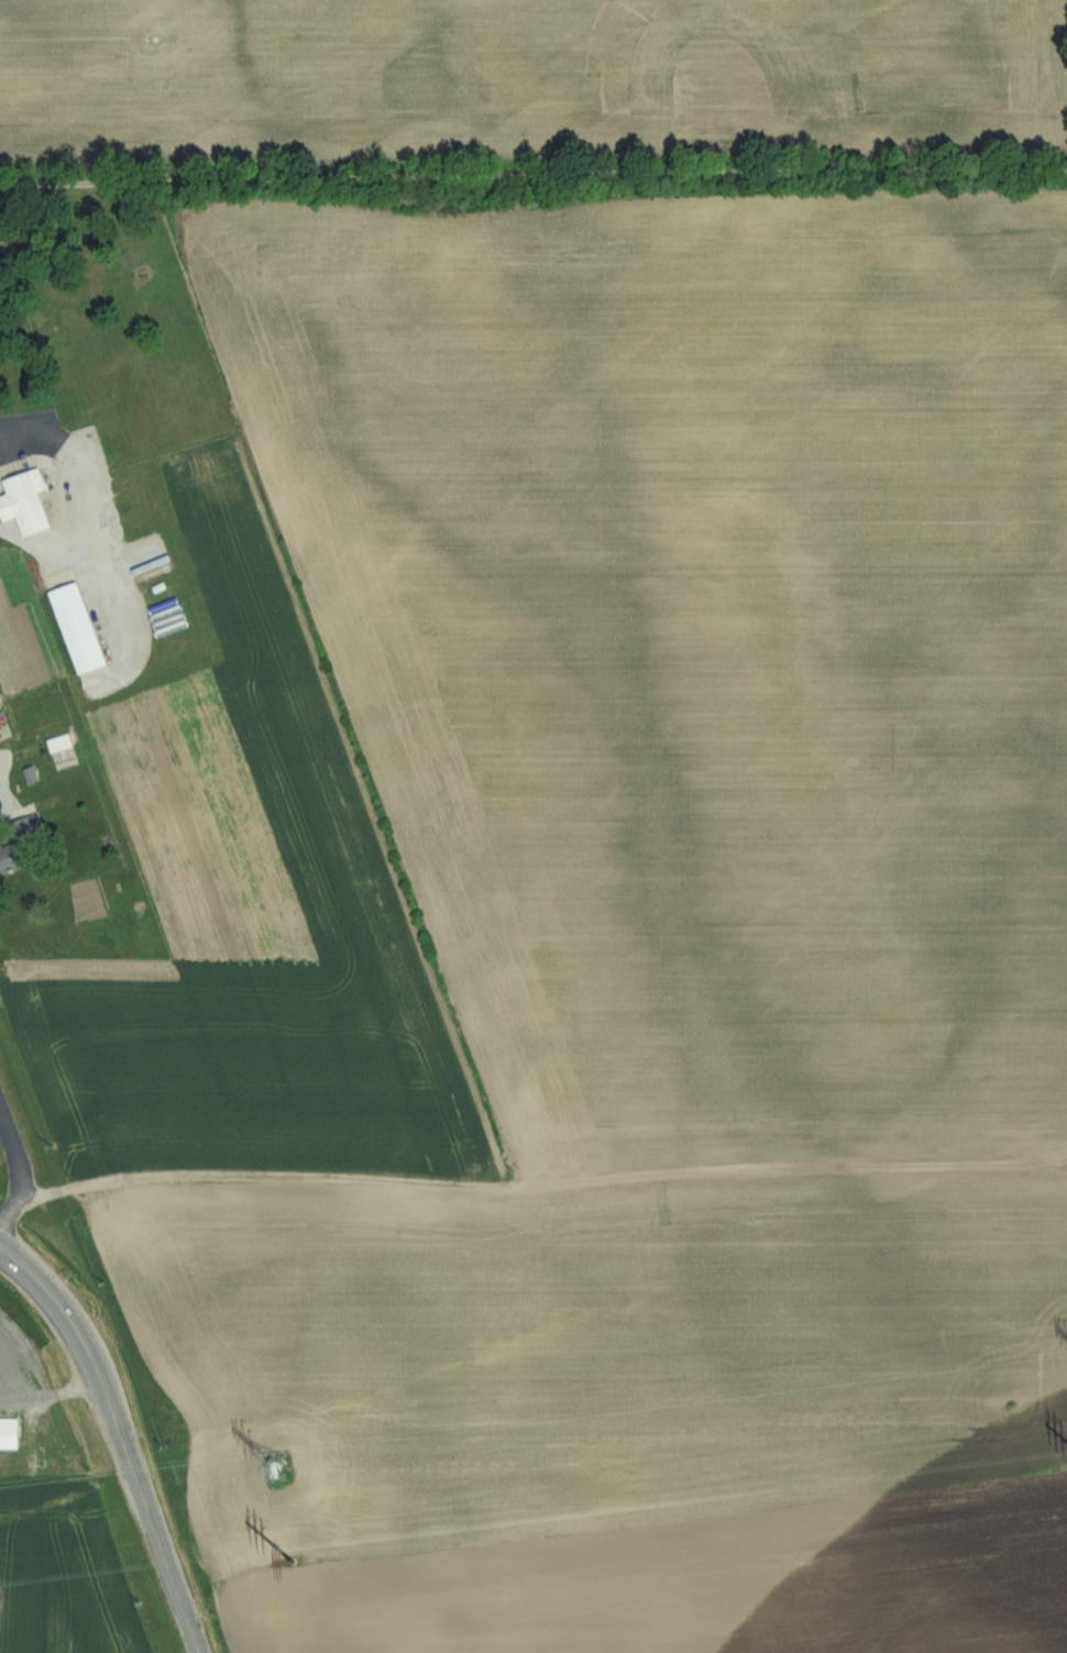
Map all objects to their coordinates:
road: (532, 183)
building: (32, 502)
road: (89, 544)
building: (84, 629)
building: (2, 731)
road: (7, 802)
building: (13, 862)
road: (10, 1140)
road: (254, 1175)
road: (16, 1200)
road: (55, 1304)
parking lot: (21, 1368)
road: (50, 1397)
building: (11, 1431)
power tower: (280, 1467)
road: (147, 1512)
power tower: (288, 1555)

